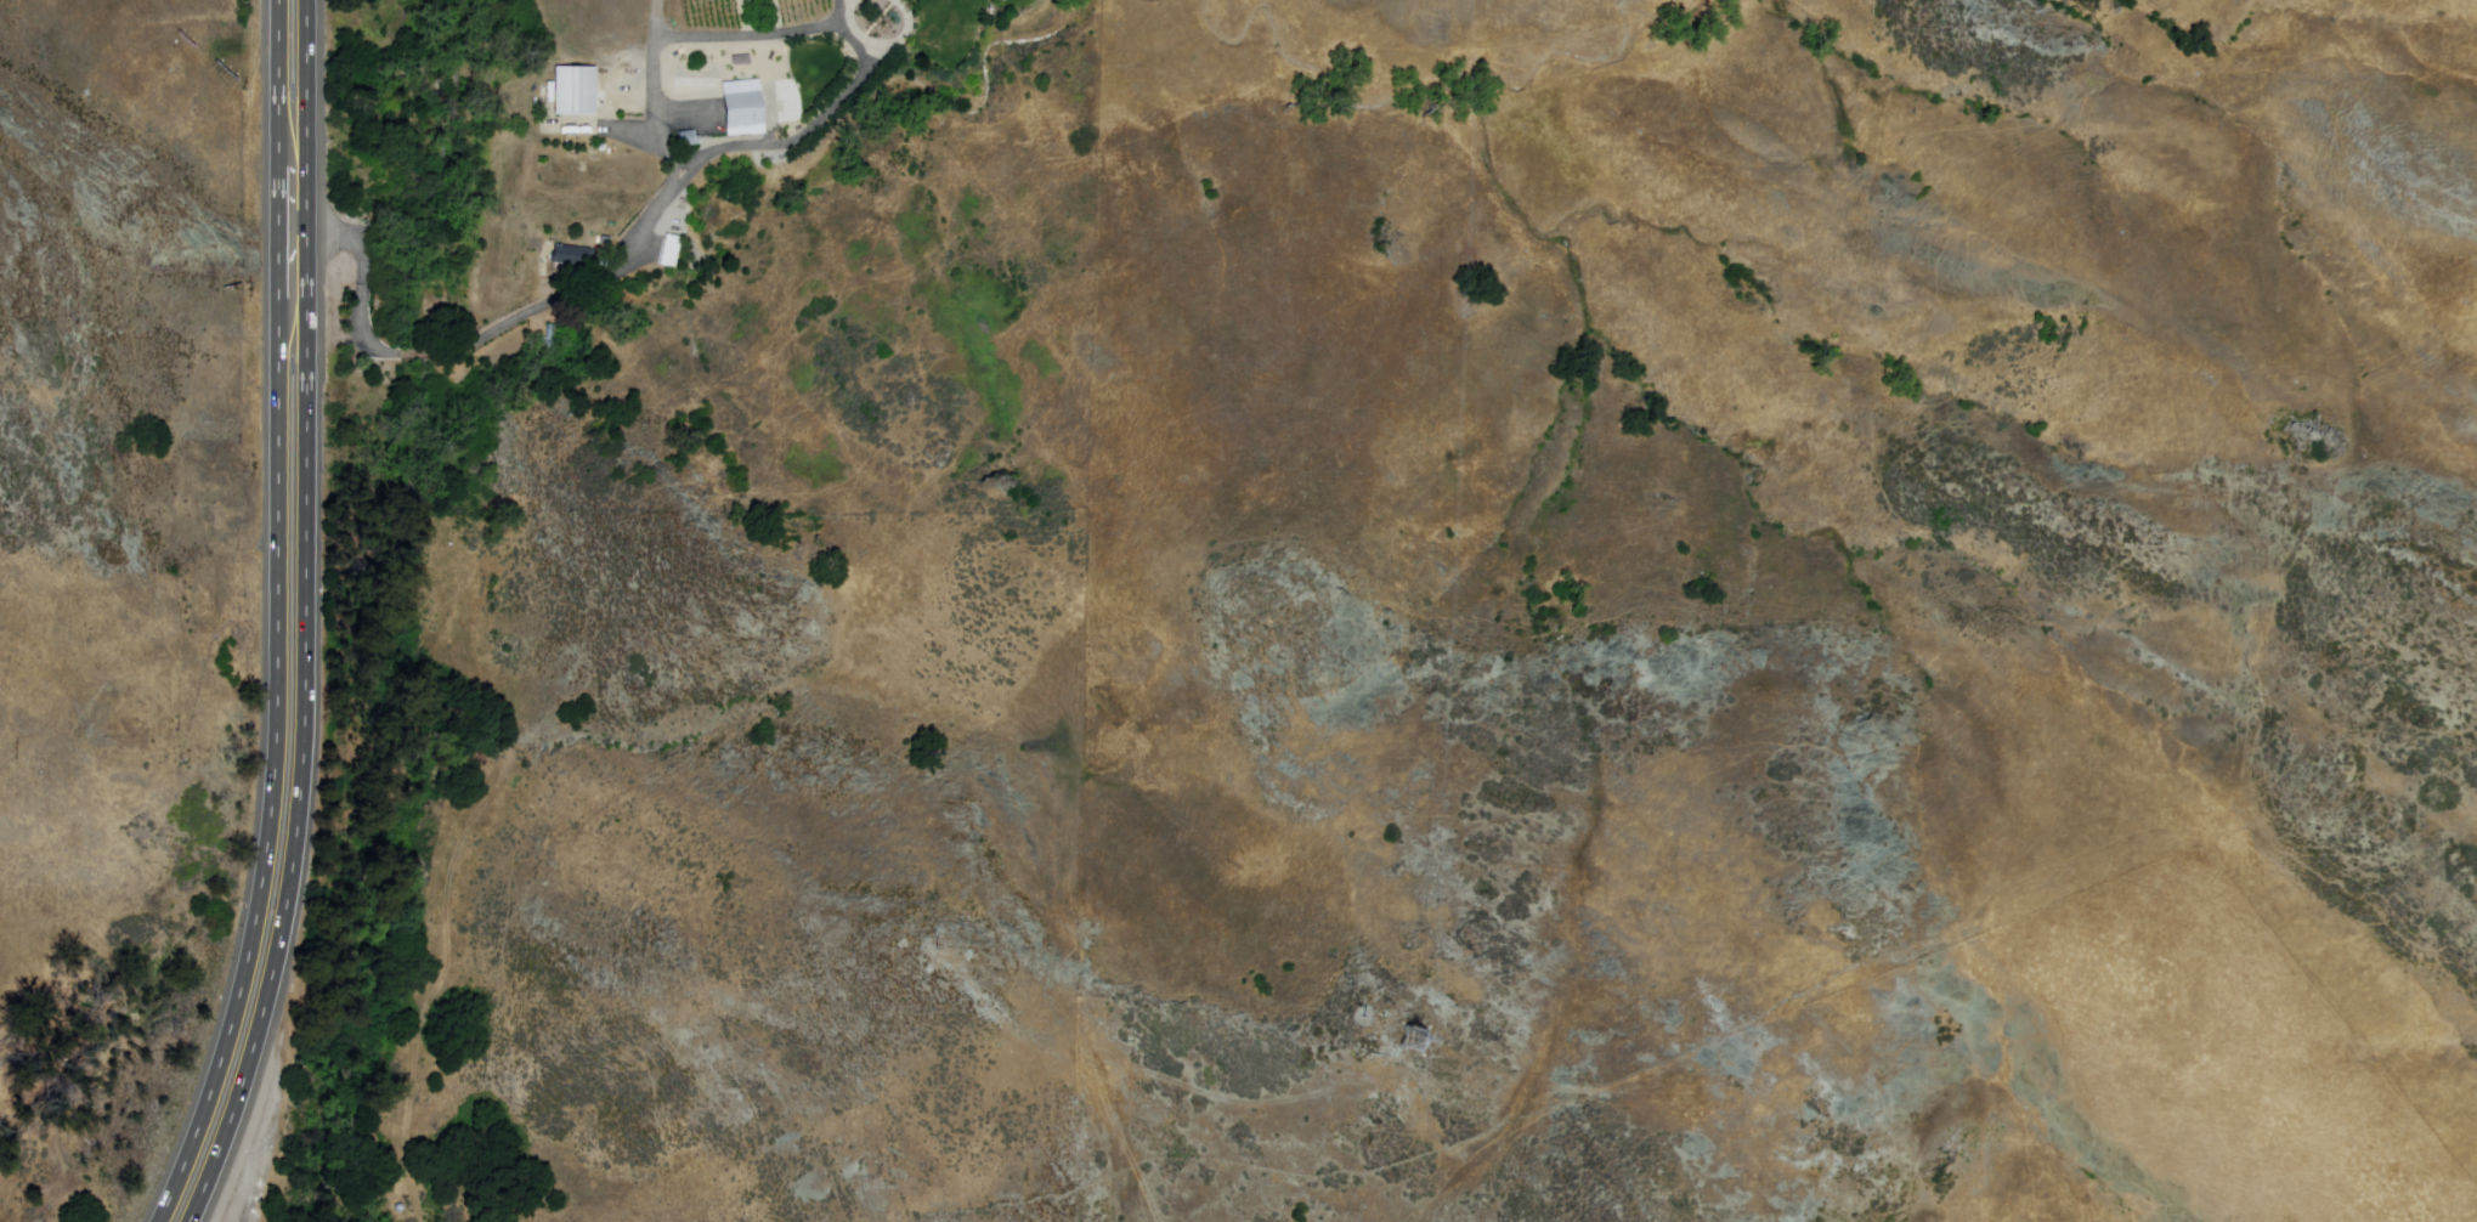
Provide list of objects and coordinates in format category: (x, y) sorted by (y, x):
building: (577, 87)
building: (617, 97)
building: (745, 107)
building: (686, 137)
road: (294, 236)
building: (668, 250)
building: (573, 256)
road: (588, 283)
road: (307, 618)
road: (281, 620)
power tower: (16, 756)
power tower: (1424, 1037)

